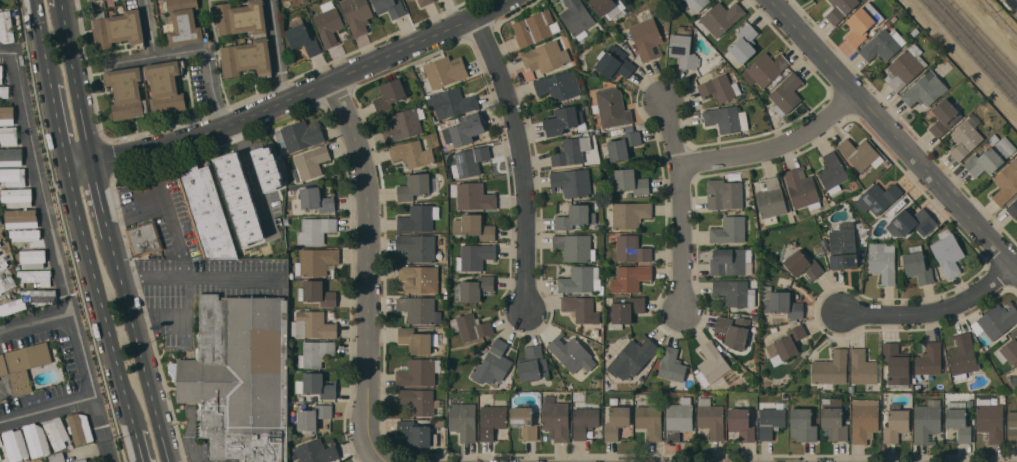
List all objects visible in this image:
building: (89, 0)
building: (675, 1)
road: (61, 2)
building: (425, 2)
building: (1012, 2)
building: (697, 4)
building: (390, 7)
building: (605, 7)
building: (840, 9)
building: (356, 15)
building: (576, 16)
building: (721, 17)
building: (894, 17)
building: (183, 22)
building: (328, 23)
building: (862, 23)
building: (6, 26)
building: (117, 28)
building: (532, 28)
building: (647, 36)
railway: (983, 36)
building: (302, 38)
building: (260, 40)
building: (580, 41)
railway: (978, 42)
road: (42, 43)
building: (743, 43)
building: (883, 44)
building: (684, 46)
railway: (971, 49)
road: (190, 50)
road: (277, 50)
road: (6, 53)
building: (545, 56)
building: (614, 62)
building: (905, 67)
building: (765, 68)
building: (445, 71)
building: (1, 73)
road: (75, 84)
building: (560, 86)
building: (720, 87)
building: (127, 88)
building: (924, 90)
building: (4, 91)
building: (389, 94)
building: (786, 94)
road: (291, 98)
building: (452, 102)
building: (612, 107)
building: (804, 108)
building: (6, 115)
building: (944, 117)
building: (725, 119)
building: (564, 121)
building: (404, 124)
road: (58, 128)
building: (464, 129)
building: (629, 129)
building: (620, 130)
building: (569, 132)
building: (300, 134)
road: (893, 134)
building: (8, 135)
building: (965, 137)
building: (993, 138)
building: (621, 145)
road: (777, 147)
building: (571, 150)
building: (411, 153)
building: (860, 153)
building: (11, 156)
building: (990, 157)
road: (523, 159)
building: (469, 161)
building: (311, 162)
building: (267, 167)
building: (441, 169)
building: (832, 172)
building: (12, 176)
road: (157, 176)
road: (252, 178)
building: (628, 181)
building: (571, 182)
building: (1006, 183)
building: (416, 186)
building: (801, 188)
building: (724, 194)
building: (473, 195)
building: (17, 197)
building: (877, 197)
road: (99, 199)
building: (240, 199)
building: (317, 199)
building: (770, 199)
road: (683, 204)
building: (1013, 208)
building: (205, 209)
road: (167, 210)
building: (630, 213)
building: (575, 216)
building: (0, 217)
building: (21, 217)
building: (418, 218)
building: (1, 221)
building: (911, 222)
building: (0, 224)
road: (51, 226)
building: (474, 226)
building: (729, 229)
building: (315, 230)
building: (24, 234)
building: (144, 238)
building: (824, 241)
building: (1, 242)
building: (575, 246)
building: (843, 246)
building: (416, 247)
building: (818, 247)
building: (631, 248)
building: (948, 252)
building: (474, 256)
building: (33, 258)
building: (316, 261)
building: (731, 261)
building: (882, 261)
building: (3, 262)
building: (800, 263)
building: (917, 265)
building: (901, 268)
road: (371, 270)
building: (36, 275)
road: (193, 277)
building: (419, 278)
building: (630, 278)
building: (581, 279)
building: (6, 282)
building: (474, 288)
building: (317, 292)
building: (735, 292)
building: (43, 296)
road: (99, 300)
road: (187, 302)
building: (781, 302)
building: (12, 306)
building: (417, 308)
building: (580, 309)
building: (626, 309)
road: (934, 311)
building: (754, 318)
building: (997, 319)
building: (791, 320)
road: (35, 322)
building: (312, 324)
building: (471, 326)
building: (773, 329)
building: (733, 330)
building: (418, 340)
building: (786, 344)
road: (139, 348)
building: (1009, 349)
building: (481, 352)
building: (315, 353)
building: (571, 353)
building: (962, 354)
building: (632, 357)
building: (929, 358)
building: (493, 363)
building: (533, 363)
building: (711, 363)
building: (24, 364)
building: (671, 364)
building: (896, 365)
building: (862, 367)
building: (1016, 368)
building: (830, 369)
building: (418, 371)
building: (689, 376)
building: (240, 377)
building: (1013, 380)
building: (317, 385)
building: (421, 401)
building: (970, 402)
road: (47, 410)
building: (313, 415)
building: (555, 418)
building: (678, 418)
building: (711, 418)
building: (816, 419)
building: (834, 419)
building: (864, 419)
building: (958, 419)
building: (463, 420)
building: (492, 420)
building: (585, 420)
building: (990, 420)
building: (524, 421)
building: (650, 421)
building: (771, 421)
building: (927, 421)
building: (440, 422)
building: (617, 422)
building: (896, 422)
building: (741, 423)
building: (802, 424)
building: (80, 427)
building: (1012, 427)
road: (102, 430)
building: (56, 432)
building: (417, 432)
building: (36, 439)
building: (1, 442)
building: (15, 444)
road: (138, 446)
building: (316, 451)
building: (0, 457)
building: (57, 457)
building: (0, 460)
building: (79, 460)

